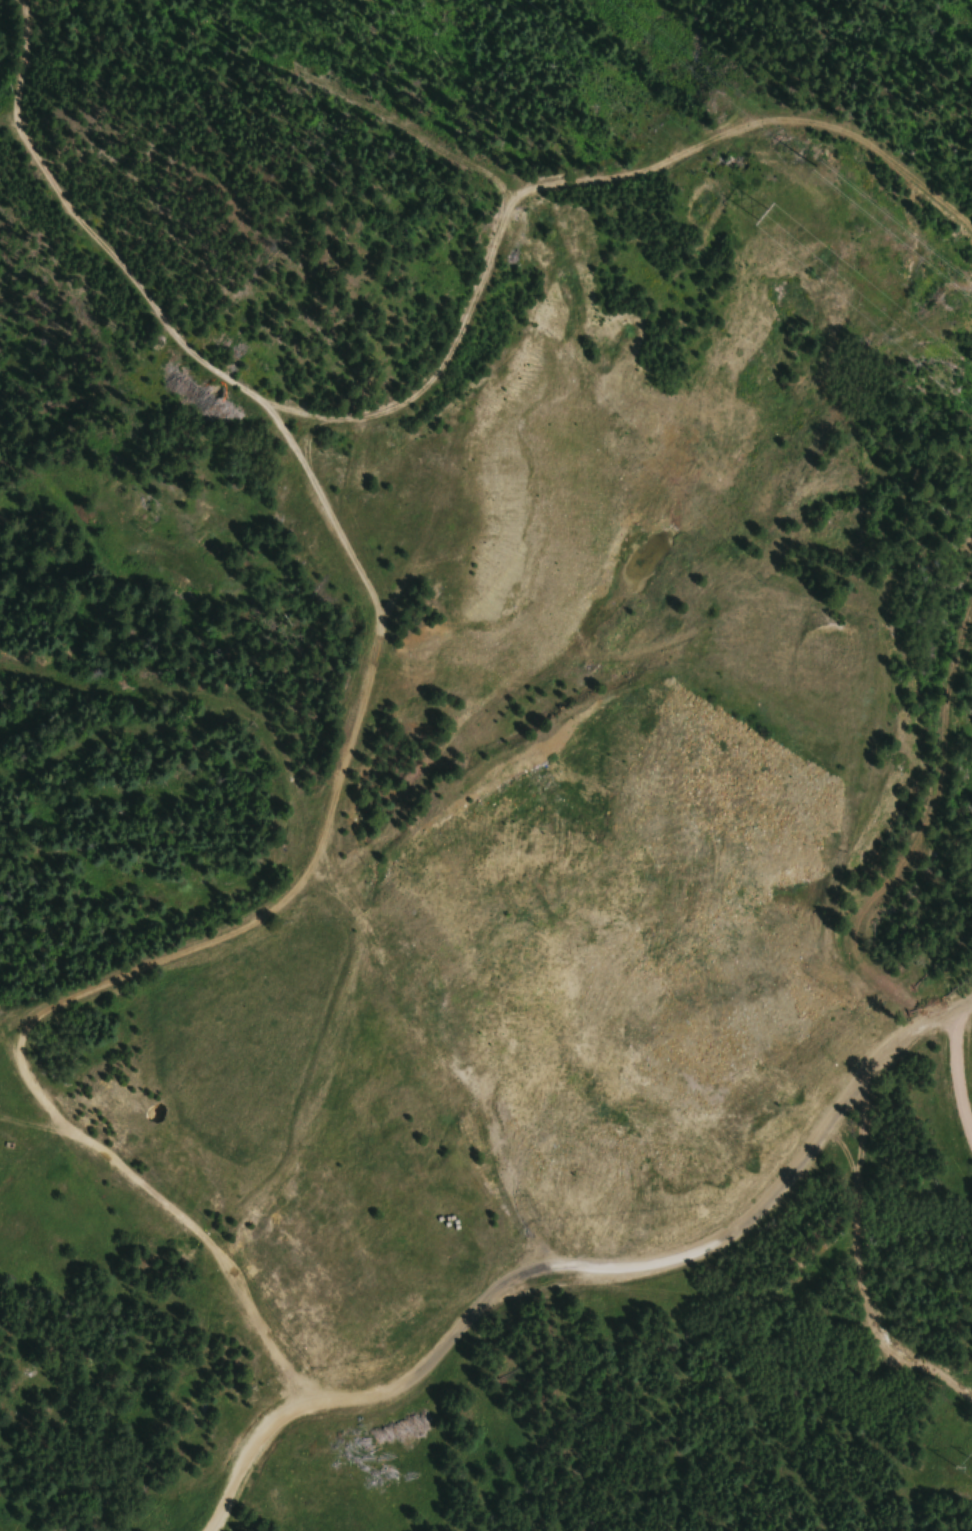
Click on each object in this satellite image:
power tower: (762, 211)
road: (588, 1280)

